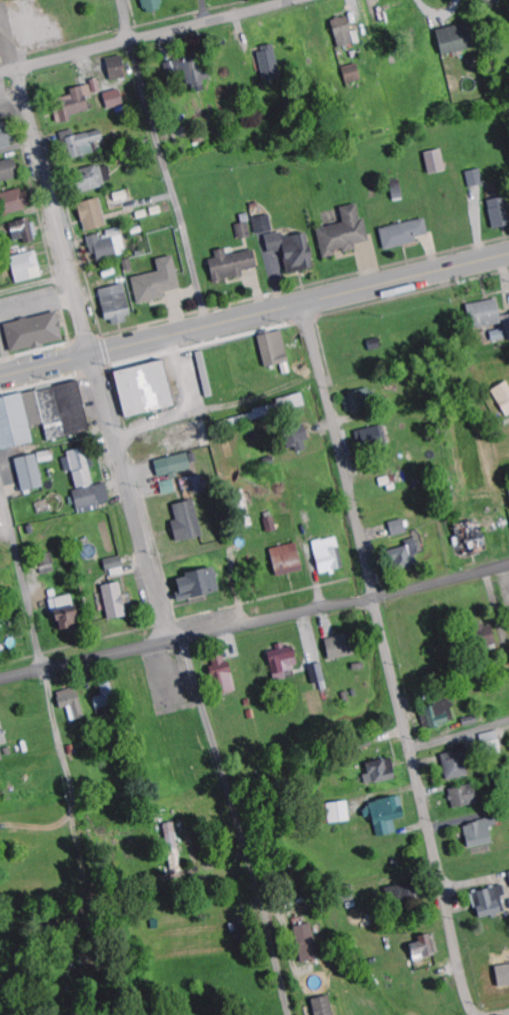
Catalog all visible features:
building: (152, 6)
building: (345, 33)
road: (11, 35)
road: (153, 37)
building: (457, 39)
building: (270, 65)
building: (117, 69)
building: (190, 71)
building: (353, 74)
building: (114, 99)
building: (77, 102)
building: (6, 136)
building: (87, 144)
road: (164, 163)
building: (436, 163)
building: (9, 171)
building: (93, 179)
building: (475, 179)
building: (15, 202)
road: (55, 213)
building: (500, 213)
building: (93, 215)
building: (263, 224)
building: (25, 231)
building: (245, 231)
building: (345, 234)
building: (404, 235)
building: (107, 247)
building: (293, 251)
building: (233, 265)
building: (27, 267)
building: (158, 282)
building: (117, 304)
building: (486, 315)
road: (254, 317)
building: (507, 323)
building: (35, 333)
building: (275, 350)
building: (146, 388)
building: (503, 396)
building: (356, 402)
building: (42, 414)
building: (297, 437)
building: (176, 464)
building: (30, 472)
building: (85, 482)
building: (169, 487)
road: (131, 499)
building: (187, 521)
building: (398, 527)
building: (329, 555)
building: (406, 556)
building: (288, 559)
building: (43, 562)
building: (114, 563)
road: (21, 578)
building: (198, 584)
building: (115, 600)
building: (69, 621)
road: (254, 625)
building: (488, 635)
building: (342, 646)
building: (283, 660)
road: (387, 660)
building: (318, 672)
building: (223, 675)
building: (105, 696)
building: (72, 703)
building: (353, 708)
building: (440, 714)
road: (459, 736)
building: (491, 741)
building: (1, 755)
building: (457, 763)
building: (381, 771)
building: (465, 796)
building: (339, 812)
building: (386, 814)
road: (239, 827)
road: (78, 830)
building: (481, 833)
building: (406, 893)
building: (490, 901)
building: (308, 943)
building: (426, 947)
building: (324, 1006)

